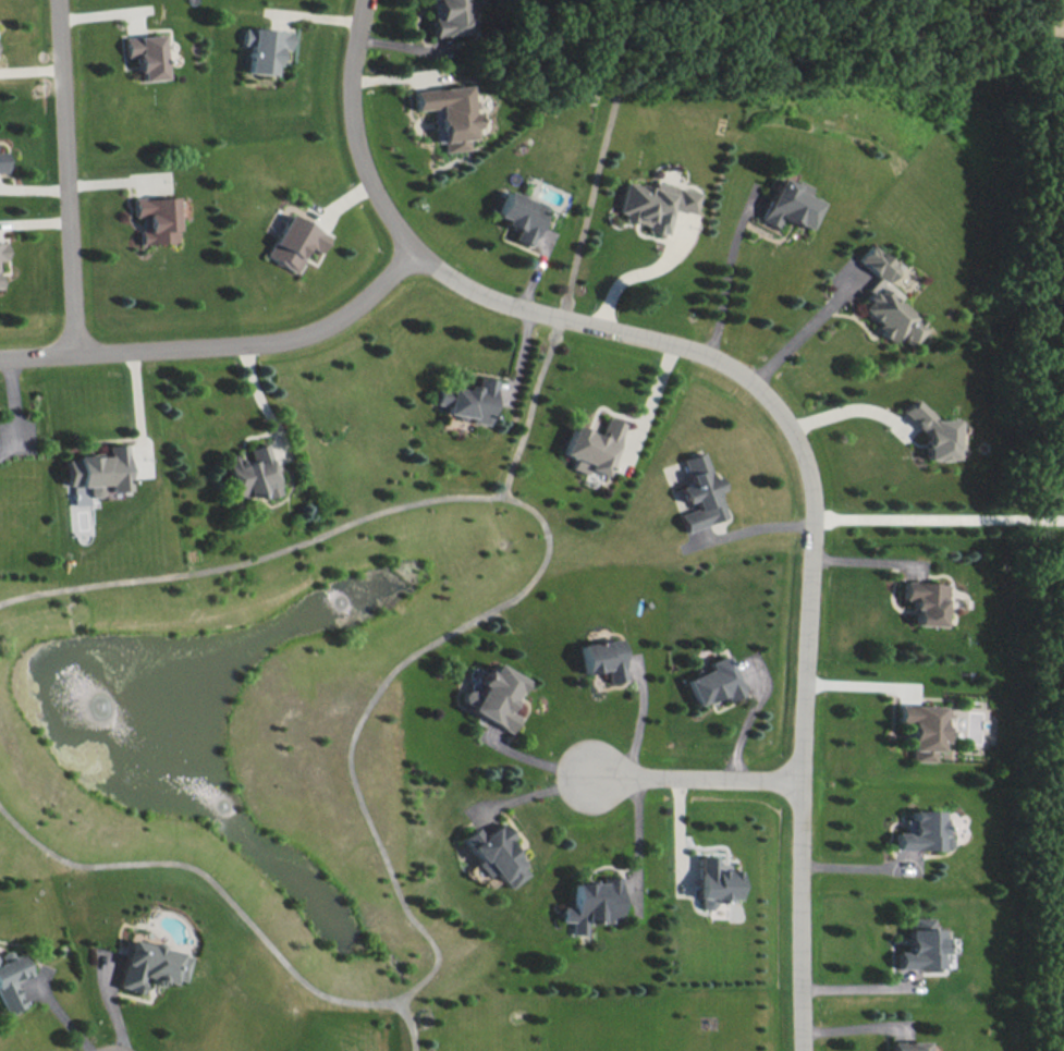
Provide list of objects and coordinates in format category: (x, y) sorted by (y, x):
building: (450, 16)
building: (262, 47)
building: (144, 54)
building: (449, 113)
road: (353, 132)
building: (0, 160)
road: (63, 175)
building: (653, 203)
building: (788, 203)
road: (589, 204)
building: (519, 216)
building: (154, 218)
building: (293, 242)
building: (2, 249)
road: (631, 278)
road: (726, 284)
building: (886, 300)
road: (804, 334)
road: (222, 341)
road: (651, 398)
building: (467, 400)
road: (266, 401)
road: (10, 402)
road: (531, 405)
road: (849, 407)
building: (932, 430)
building: (591, 447)
building: (94, 473)
building: (250, 473)
building: (699, 493)
road: (937, 516)
road: (754, 524)
road: (810, 524)
building: (925, 600)
building: (600, 658)
building: (712, 681)
road: (864, 681)
road: (377, 693)
building: (493, 695)
road: (638, 719)
building: (921, 729)
road: (537, 760)
road: (698, 778)
road: (536, 792)
building: (921, 831)
road: (677, 832)
road: (636, 835)
building: (494, 853)
road: (859, 857)
building: (714, 881)
building: (591, 903)
building: (920, 944)
building: (147, 964)
building: (9, 979)
road: (855, 983)
road: (62, 1021)
road: (408, 1024)
building: (908, 1046)

